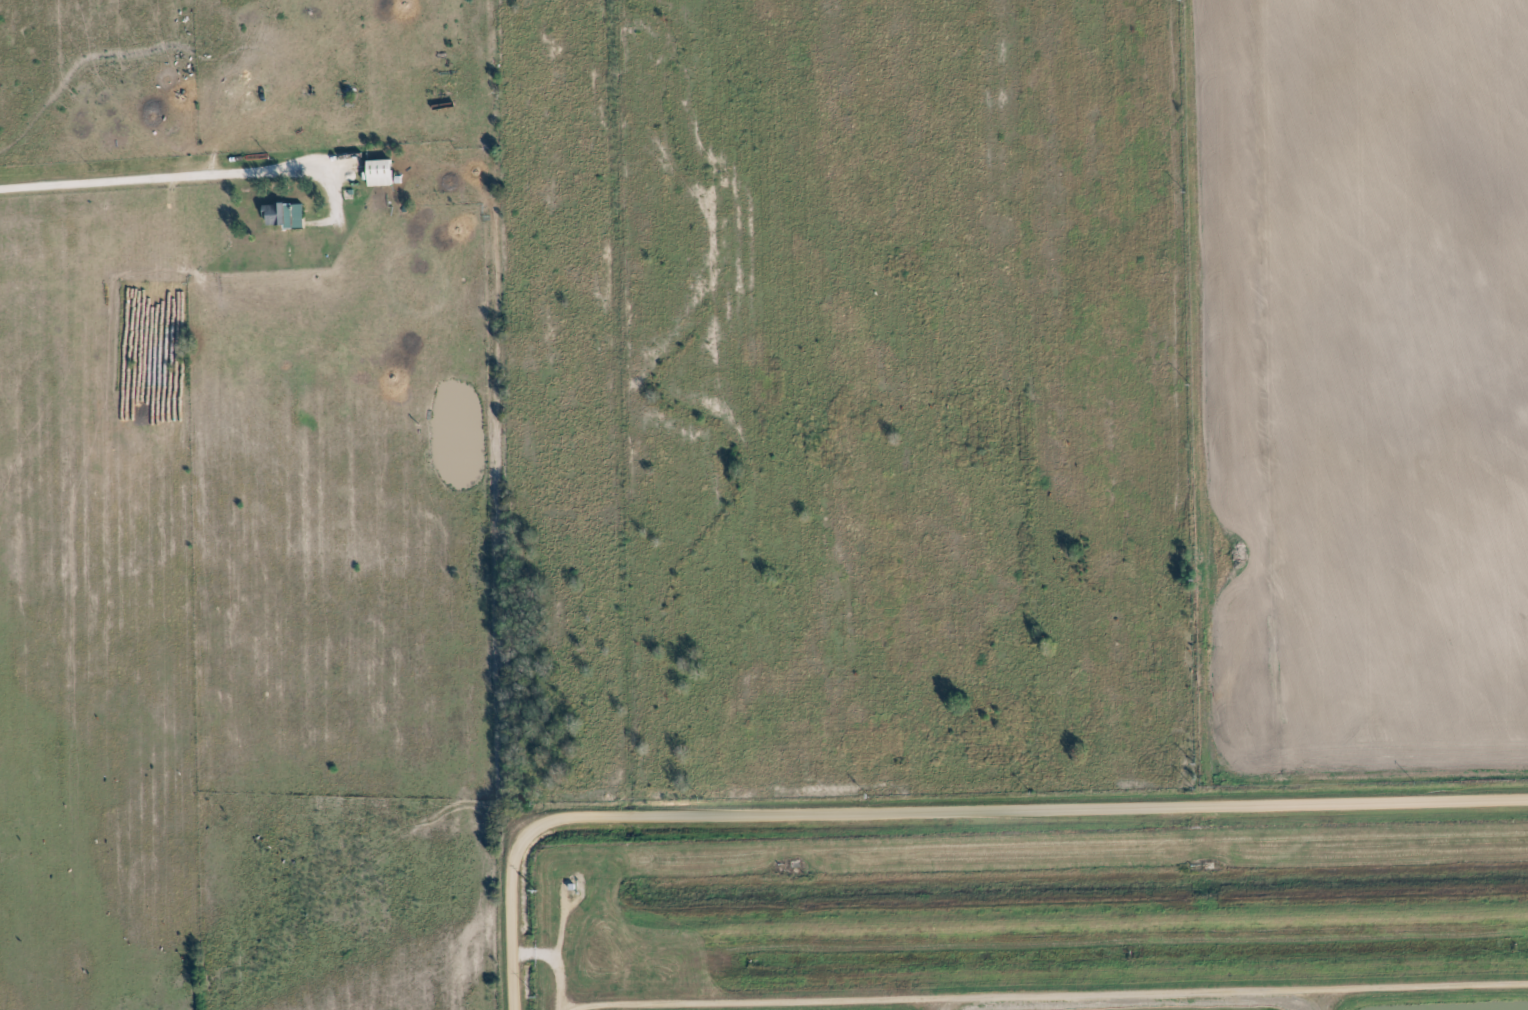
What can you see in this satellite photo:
building: (387, 172)
road: (163, 176)
building: (287, 216)
road: (933, 806)

